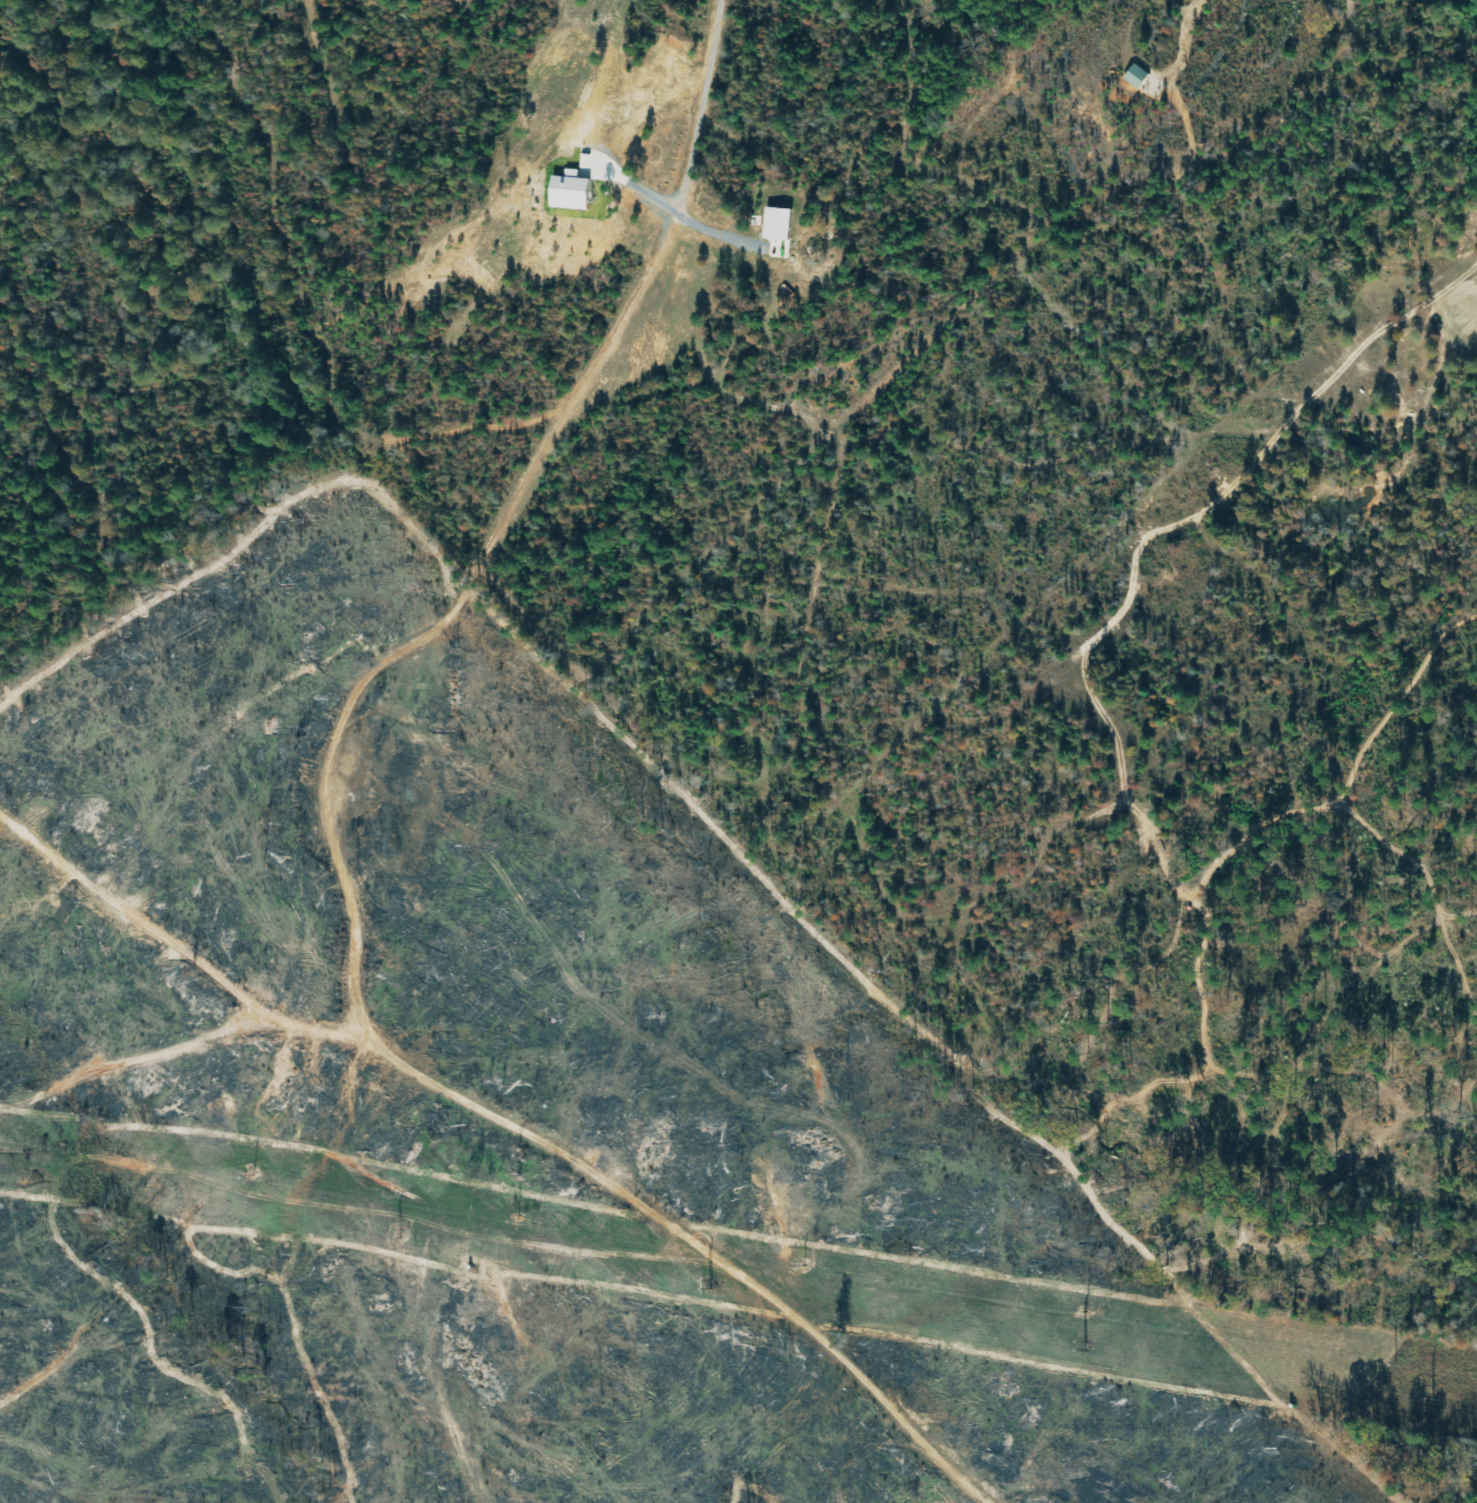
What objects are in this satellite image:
building: (1142, 77)
building: (579, 192)

